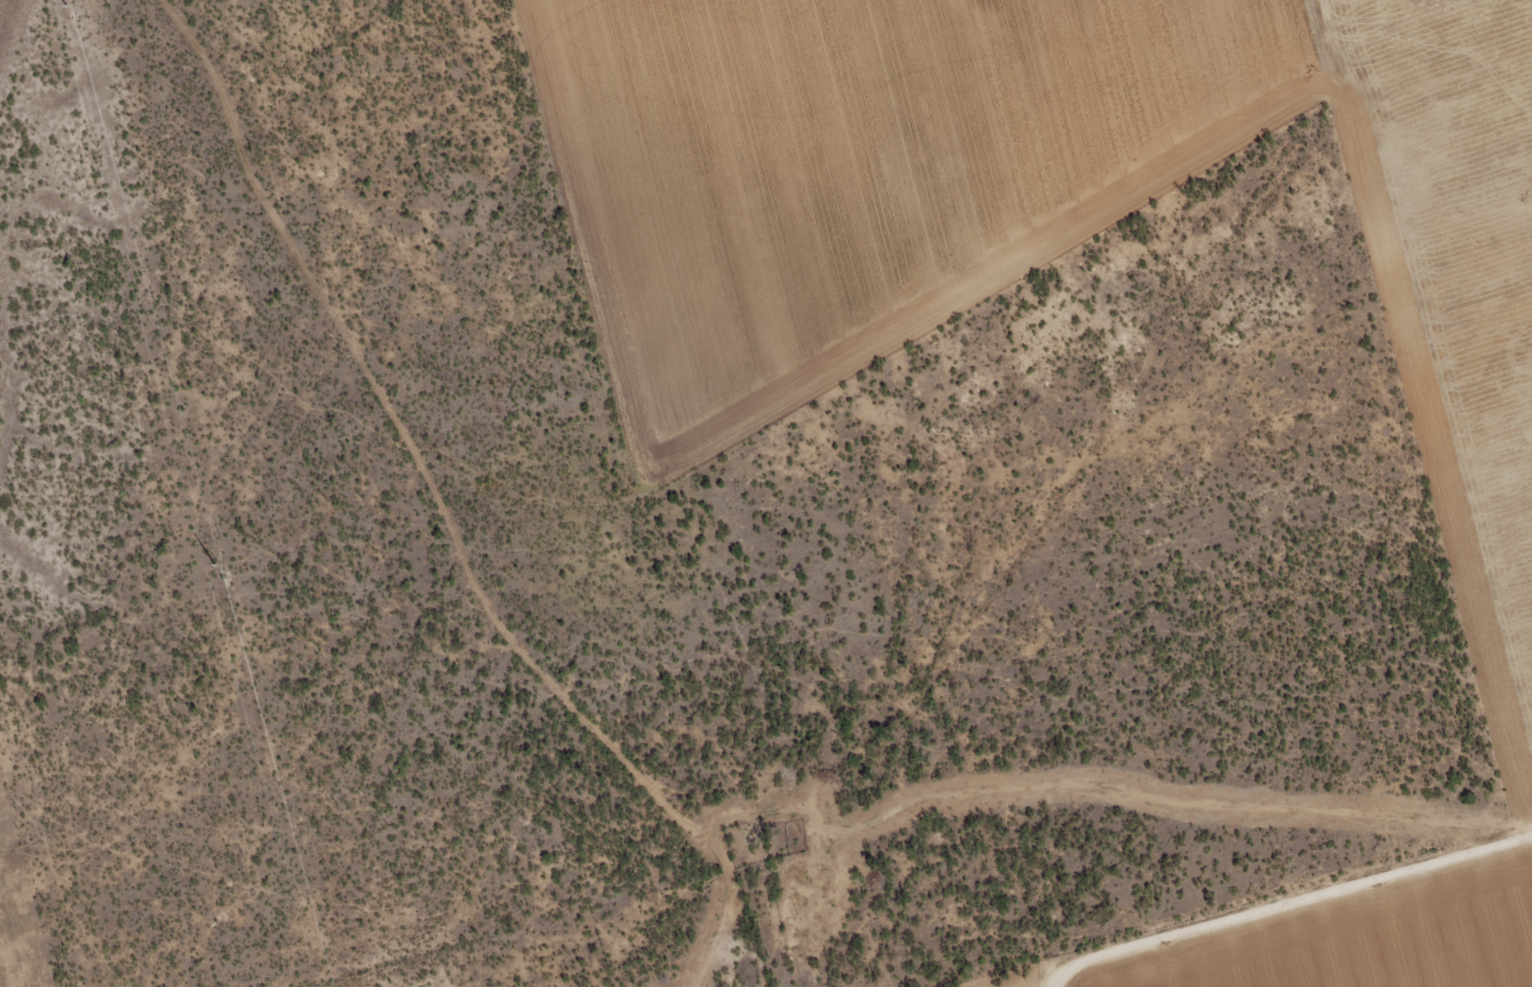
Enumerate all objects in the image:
power tower: (66, 5)
power tower: (214, 564)
road: (1322, 926)

